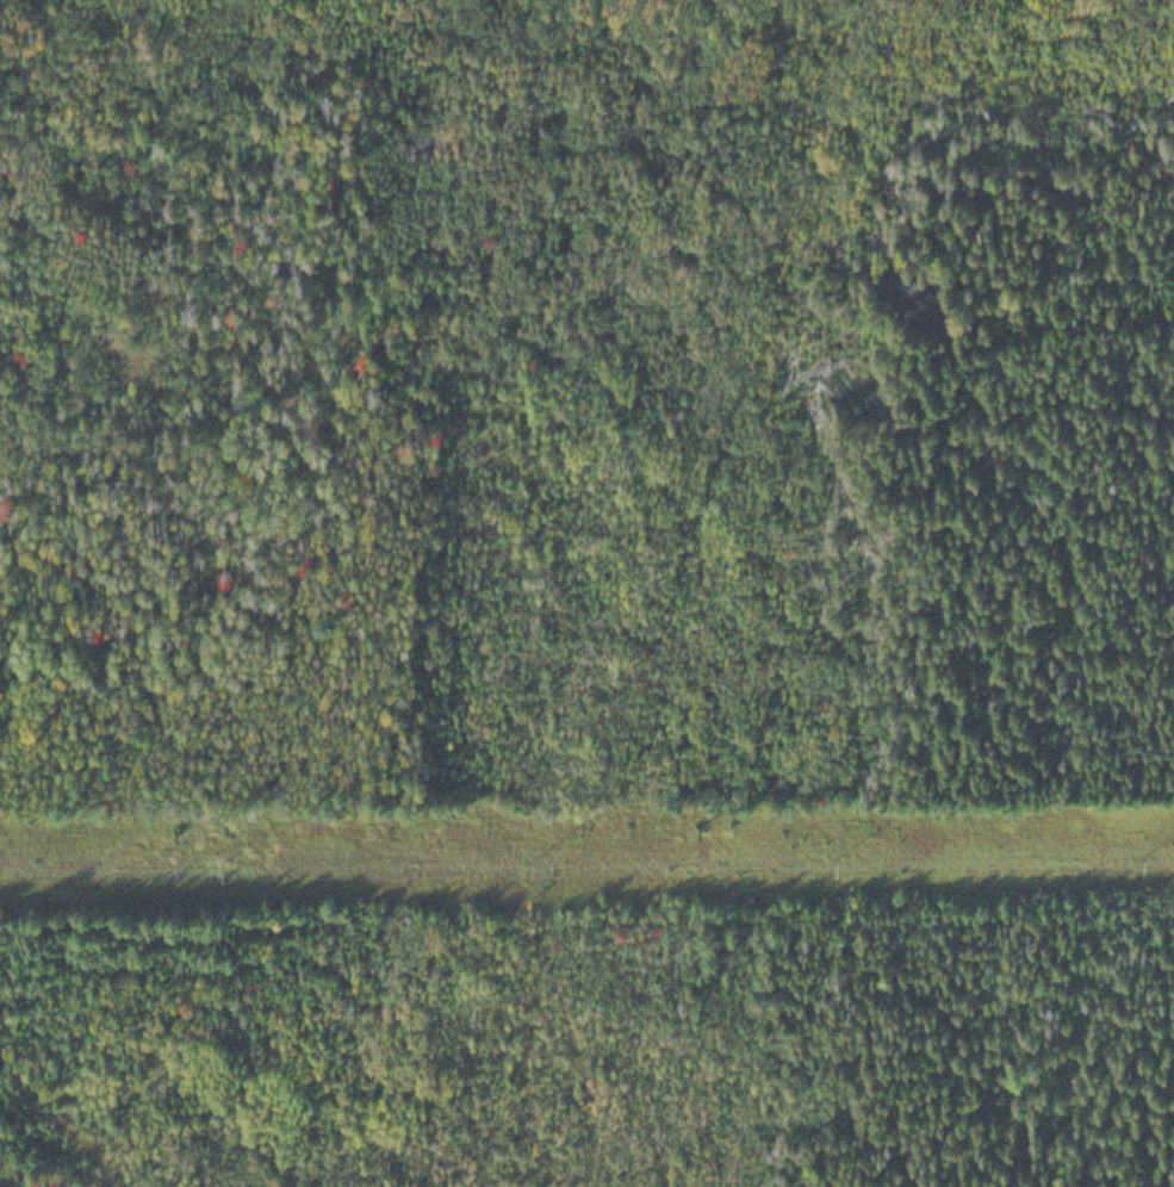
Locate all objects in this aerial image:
power tower: (679, 810)
power tower: (167, 821)
road: (735, 915)

